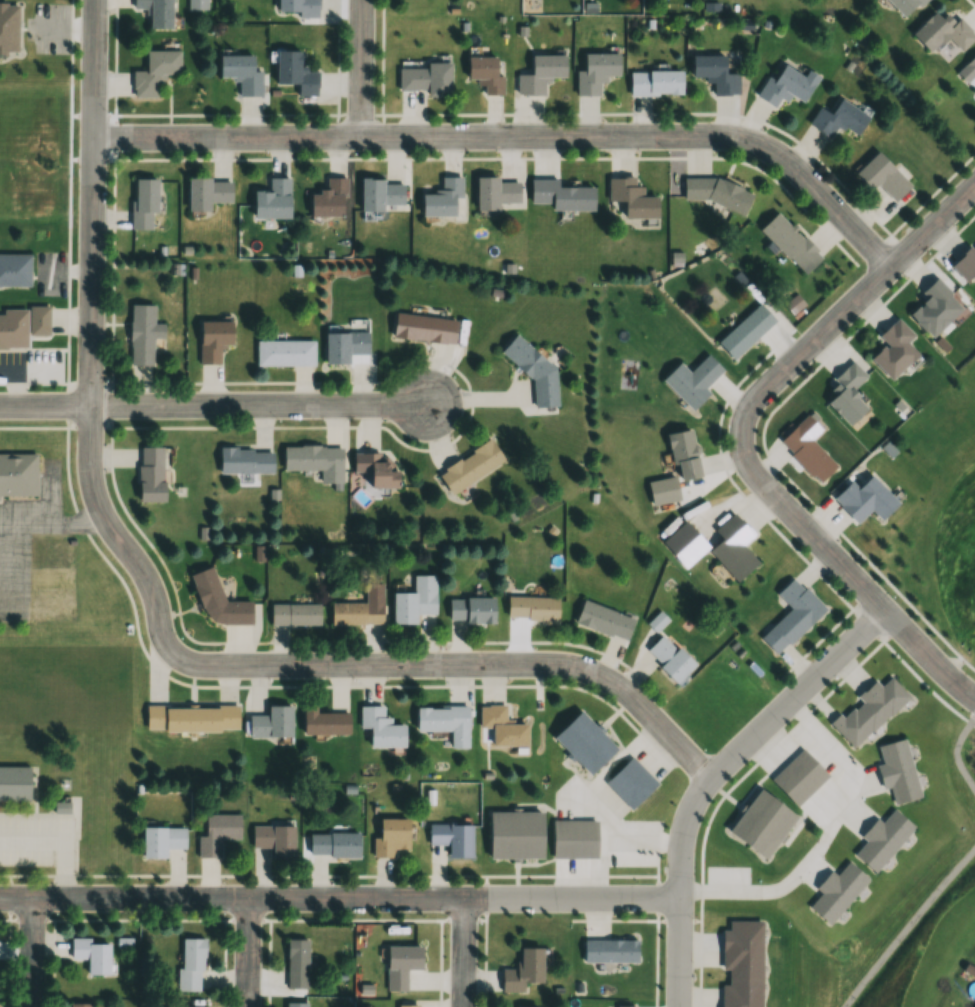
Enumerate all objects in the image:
building: (198, 4)
building: (904, 6)
building: (300, 7)
building: (156, 12)
parking lot: (46, 29)
road: (63, 29)
building: (5, 31)
building: (941, 33)
building: (970, 65)
road: (360, 68)
building: (155, 71)
building: (595, 71)
building: (295, 72)
building: (241, 73)
building: (484, 73)
building: (540, 73)
building: (715, 73)
building: (427, 79)
building: (655, 81)
building: (786, 86)
building: (838, 119)
road: (516, 136)
building: (881, 175)
building: (207, 193)
building: (497, 193)
building: (382, 195)
building: (561, 195)
building: (631, 197)
building: (442, 198)
building: (272, 199)
building: (329, 199)
building: (143, 202)
building: (790, 242)
building: (965, 263)
building: (11, 274)
parking lot: (45, 275)
building: (794, 303)
building: (933, 308)
building: (20, 328)
building: (424, 328)
building: (745, 330)
road: (91, 331)
building: (143, 333)
building: (213, 339)
building: (345, 343)
building: (893, 348)
building: (285, 352)
parking lot: (28, 369)
building: (533, 370)
building: (692, 380)
road: (766, 384)
building: (847, 393)
road: (215, 404)
building: (807, 448)
building: (683, 454)
building: (245, 460)
building: (315, 460)
building: (469, 466)
building: (376, 470)
building: (150, 473)
building: (15, 479)
building: (864, 499)
building: (733, 547)
parking lot: (12, 579)
building: (218, 601)
building: (414, 601)
park: (965, 607)
building: (531, 608)
building: (470, 610)
building: (356, 612)
building: (294, 614)
building: (792, 615)
building: (603, 620)
road: (899, 622)
road: (943, 640)
road: (927, 655)
building: (669, 657)
road: (458, 663)
building: (869, 711)
building: (191, 717)
building: (324, 721)
building: (444, 722)
building: (270, 723)
building: (502, 726)
building: (380, 727)
road: (751, 736)
building: (583, 742)
road: (955, 751)
road: (757, 760)
building: (897, 771)
road: (603, 774)
building: (798, 777)
building: (630, 783)
building: (11, 788)
building: (761, 823)
building: (217, 832)
building: (515, 834)
building: (390, 836)
road: (826, 836)
building: (452, 838)
building: (574, 838)
building: (274, 839)
building: (881, 839)
building: (161, 840)
parking lot: (35, 841)
road: (641, 843)
building: (333, 844)
road: (597, 870)
road: (325, 878)
building: (836, 891)
road: (339, 897)
road: (657, 898)
road: (678, 919)
road: (907, 925)
building: (610, 950)
road: (32, 951)
road: (247, 952)
road: (463, 952)
road: (679, 952)
building: (91, 954)
building: (297, 963)
building: (190, 964)
building: (401, 964)
building: (742, 964)
building: (523, 970)
building: (80, 1004)
building: (296, 1004)
building: (408, 1005)
building: (192, 1006)
building: (626, 1006)

